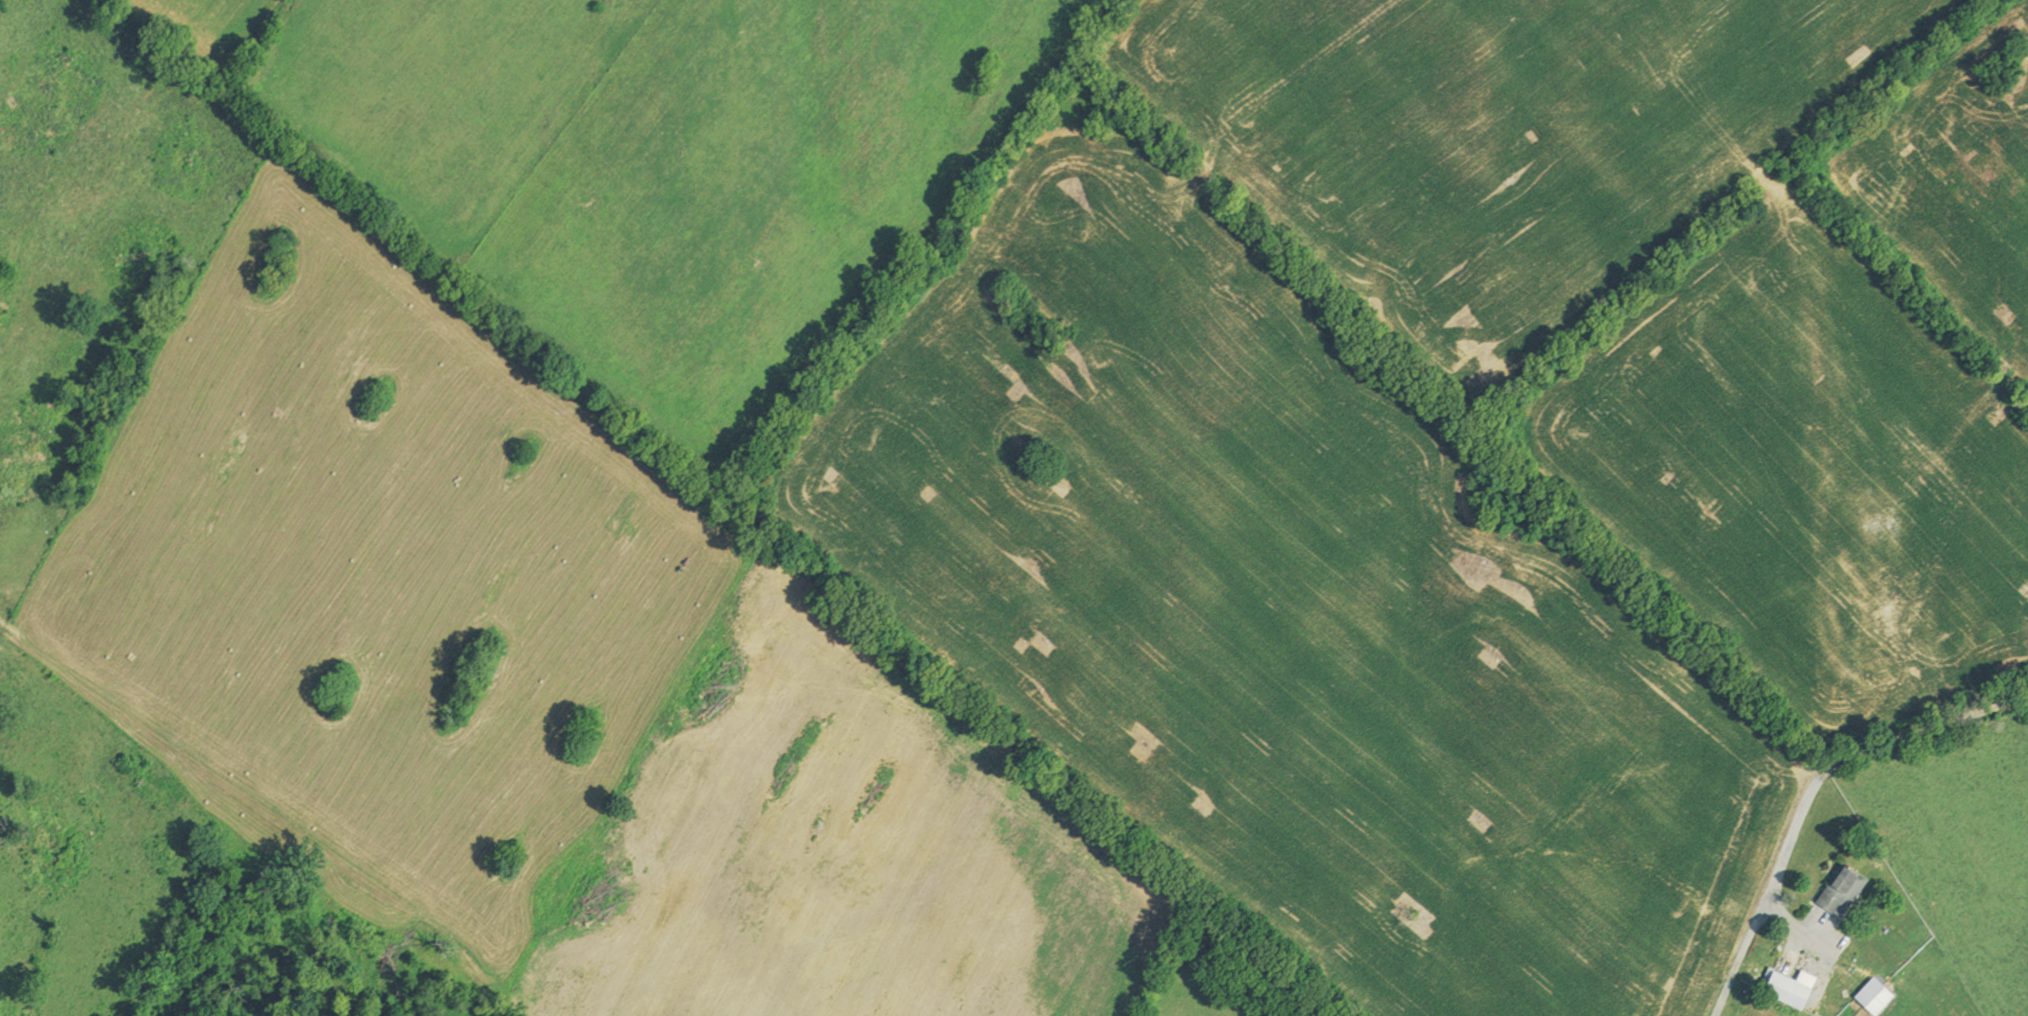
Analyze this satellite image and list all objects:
road: (1807, 789)
building: (1835, 890)
building: (1783, 987)
building: (1867, 996)

